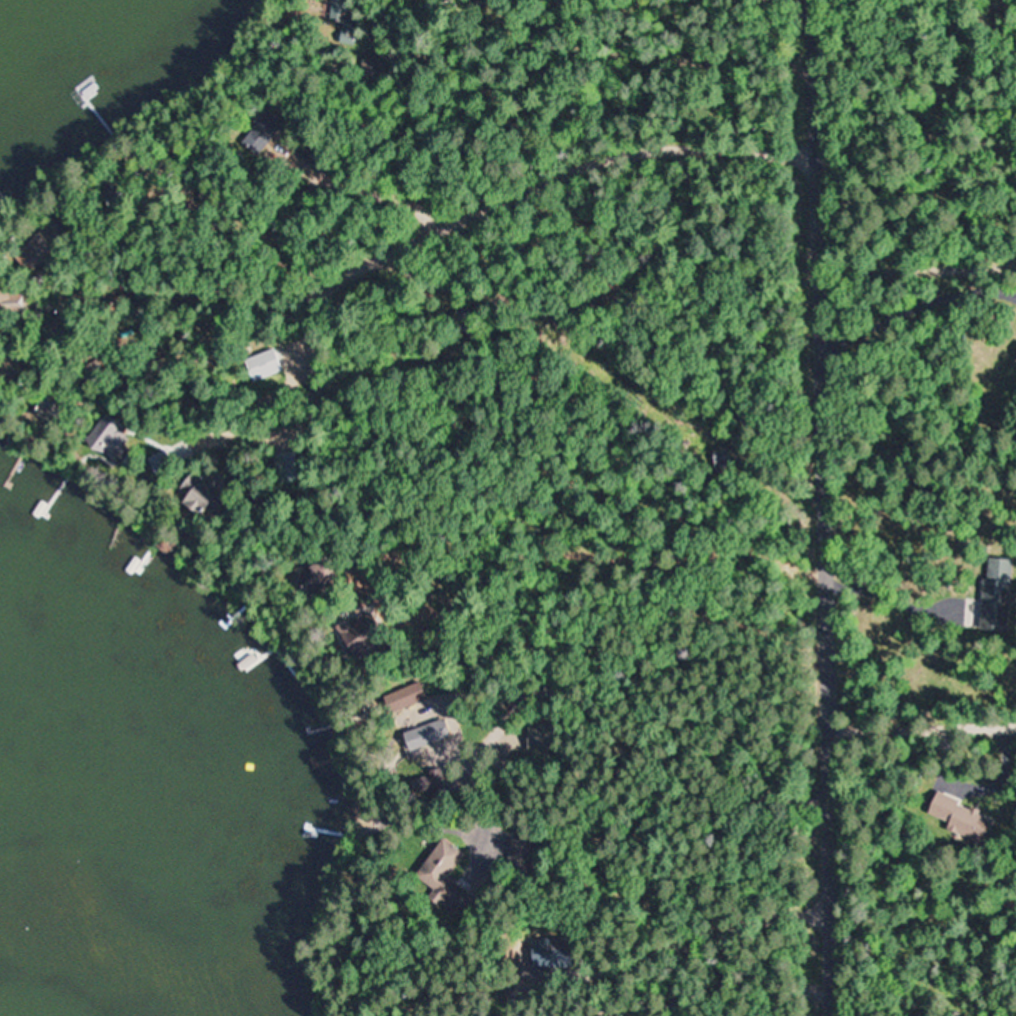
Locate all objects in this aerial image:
building: (346, 19)
building: (375, 70)
building: (265, 131)
road: (460, 222)
building: (40, 252)
building: (13, 301)
building: (470, 320)
building: (263, 365)
building: (48, 408)
building: (100, 439)
building: (287, 470)
building: (195, 494)
road: (830, 507)
building: (310, 579)
building: (996, 594)
building: (352, 633)
building: (403, 697)
road: (925, 729)
building: (422, 735)
building: (960, 817)
building: (522, 852)
building: (441, 875)
building: (550, 950)

